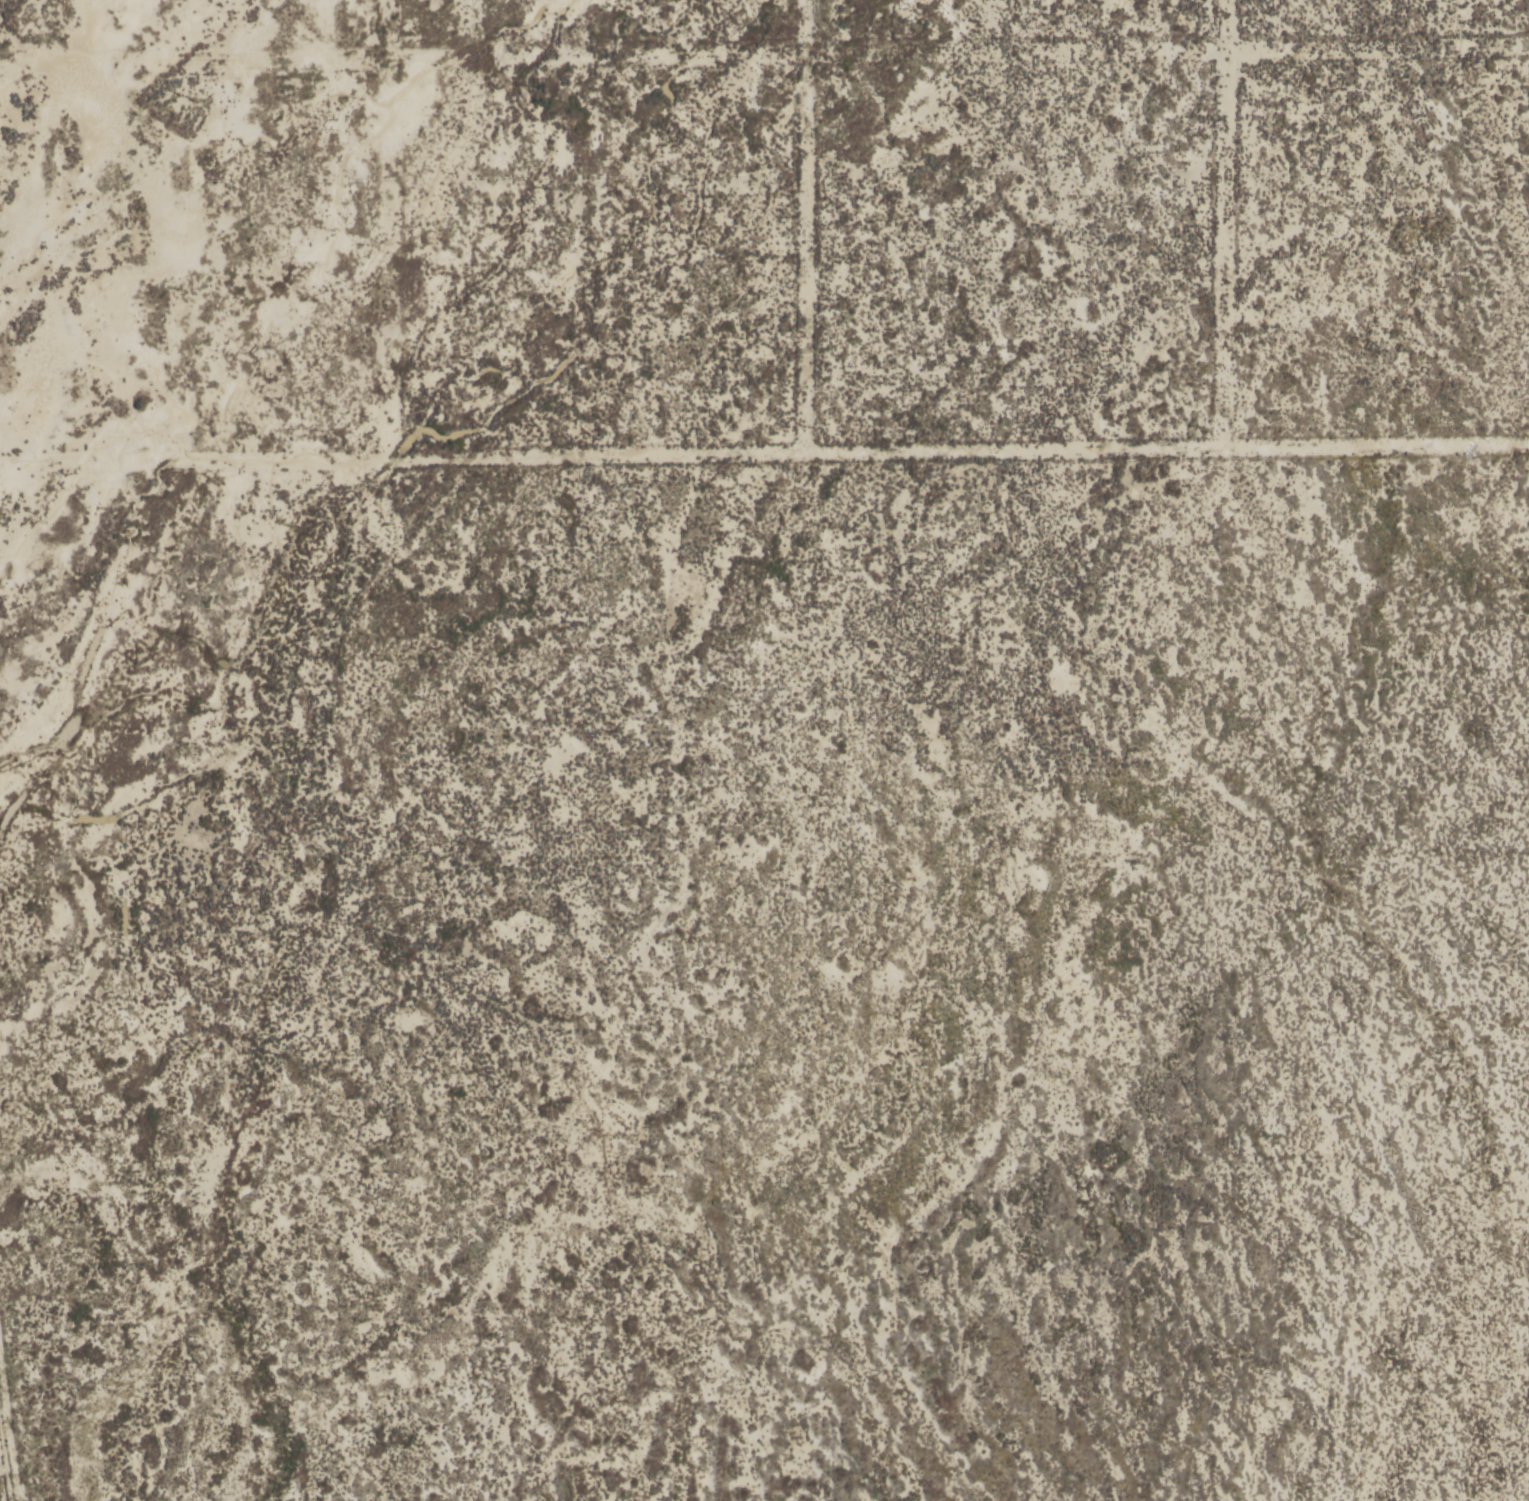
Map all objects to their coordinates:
road: (8, 1437)

